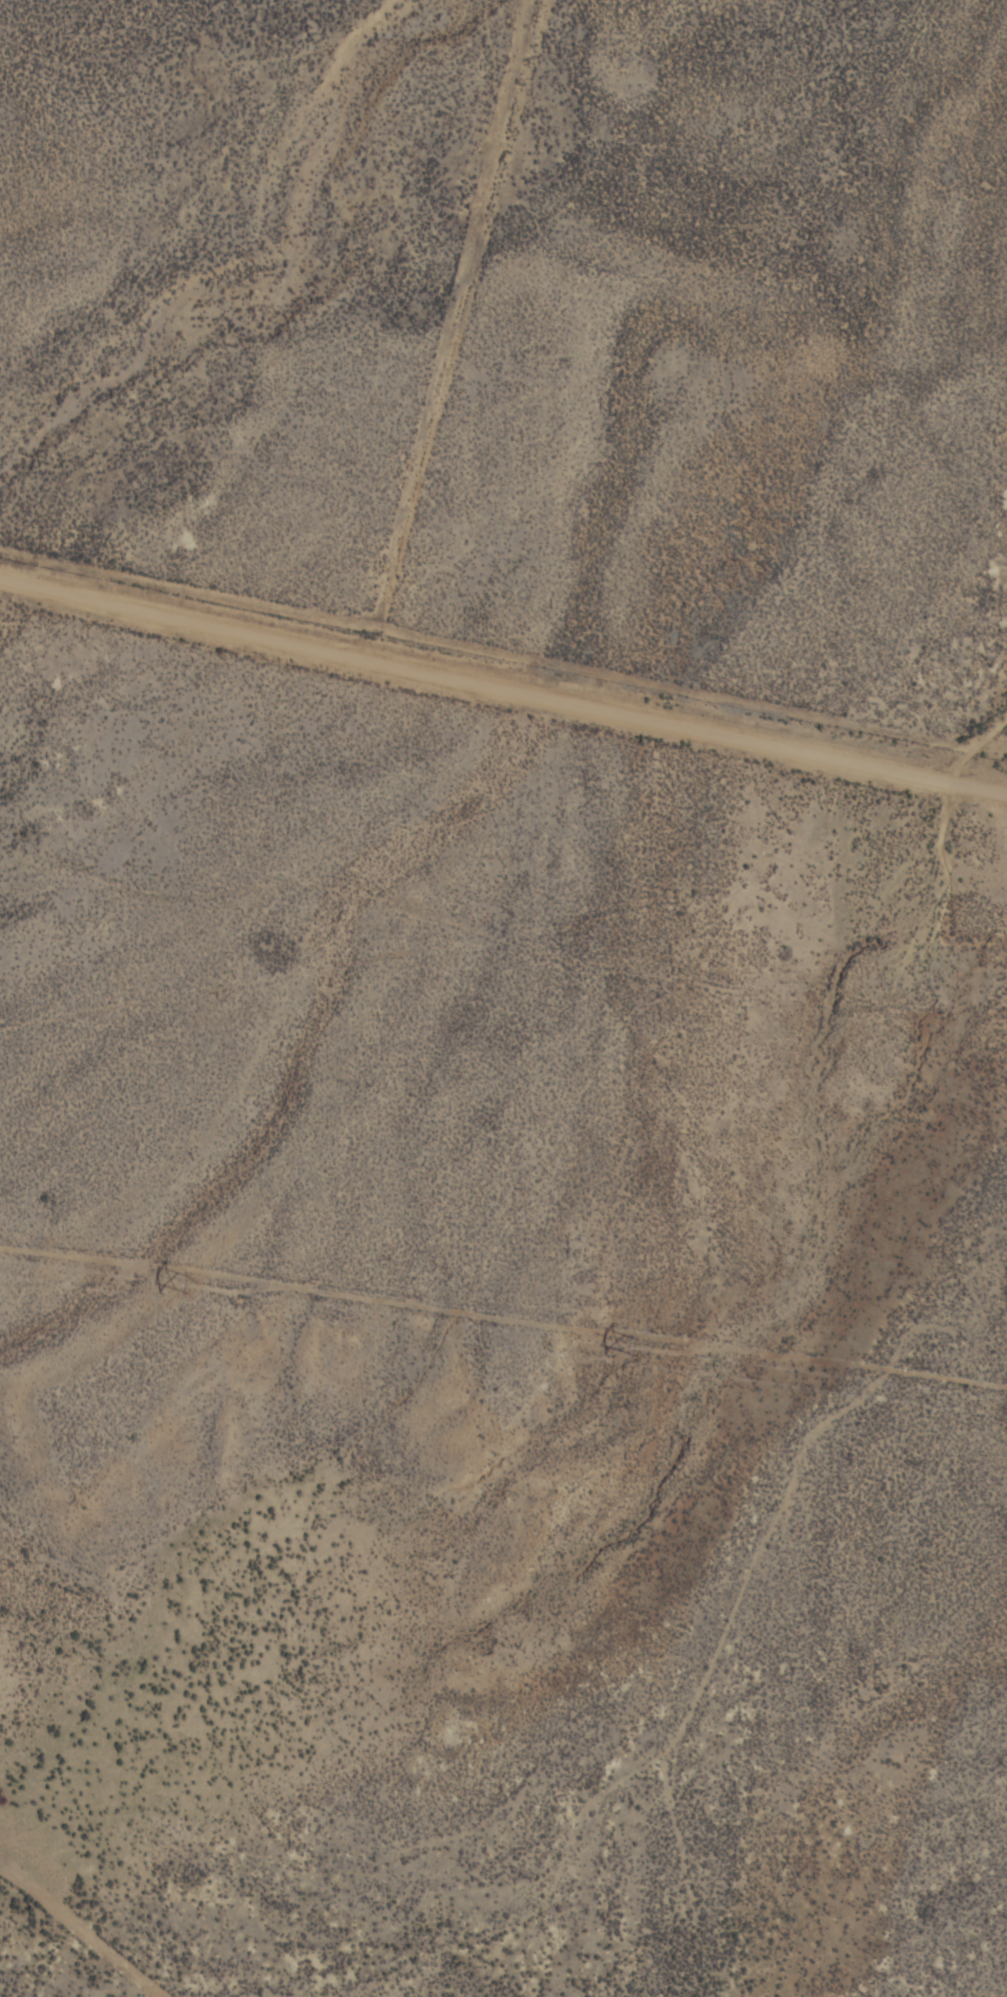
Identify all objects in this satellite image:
road: (479, 681)
road: (983, 736)
road: (983, 759)
road: (983, 787)
power tower: (190, 1284)
power tower: (636, 1347)

